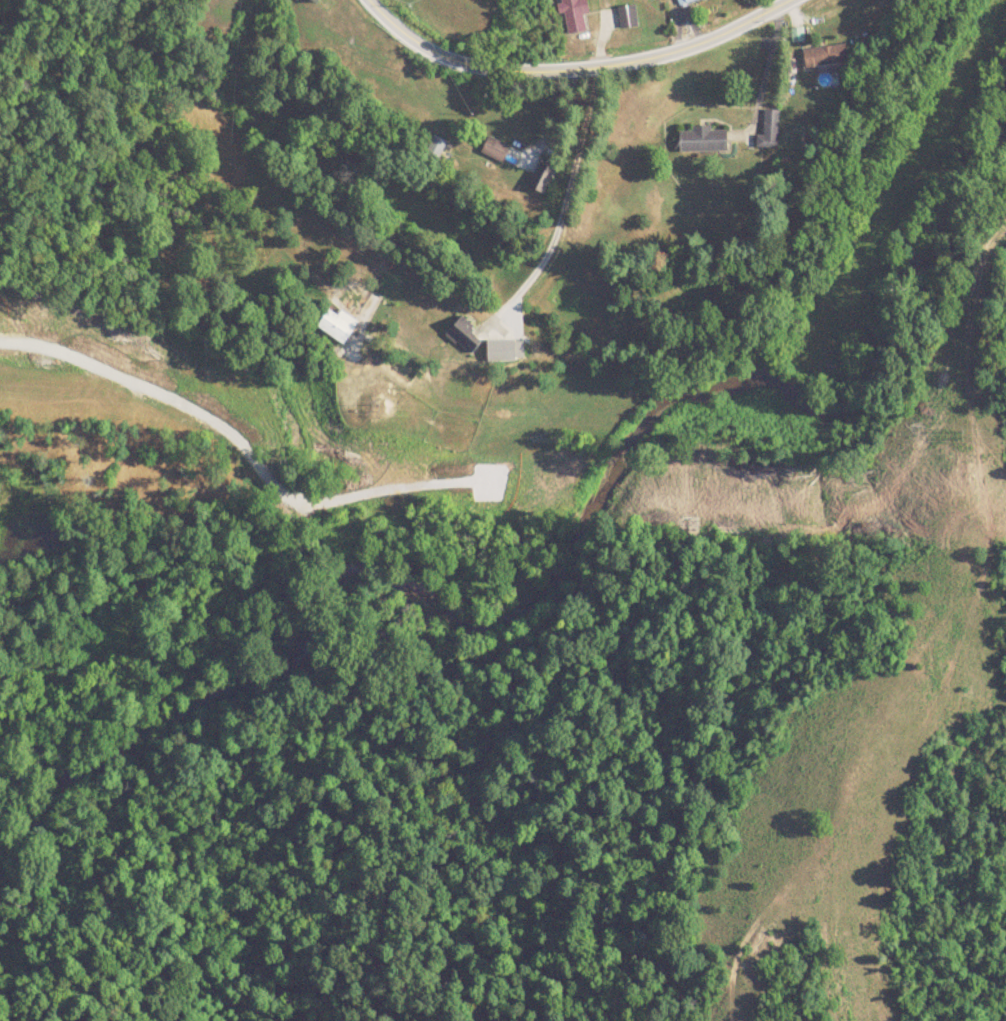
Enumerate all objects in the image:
building: (683, 1)
building: (628, 15)
building: (572, 16)
building: (823, 58)
road: (576, 70)
road: (764, 85)
building: (769, 130)
building: (702, 139)
building: (495, 148)
building: (541, 177)
road: (564, 211)
building: (335, 326)
building: (462, 337)
river: (571, 548)

